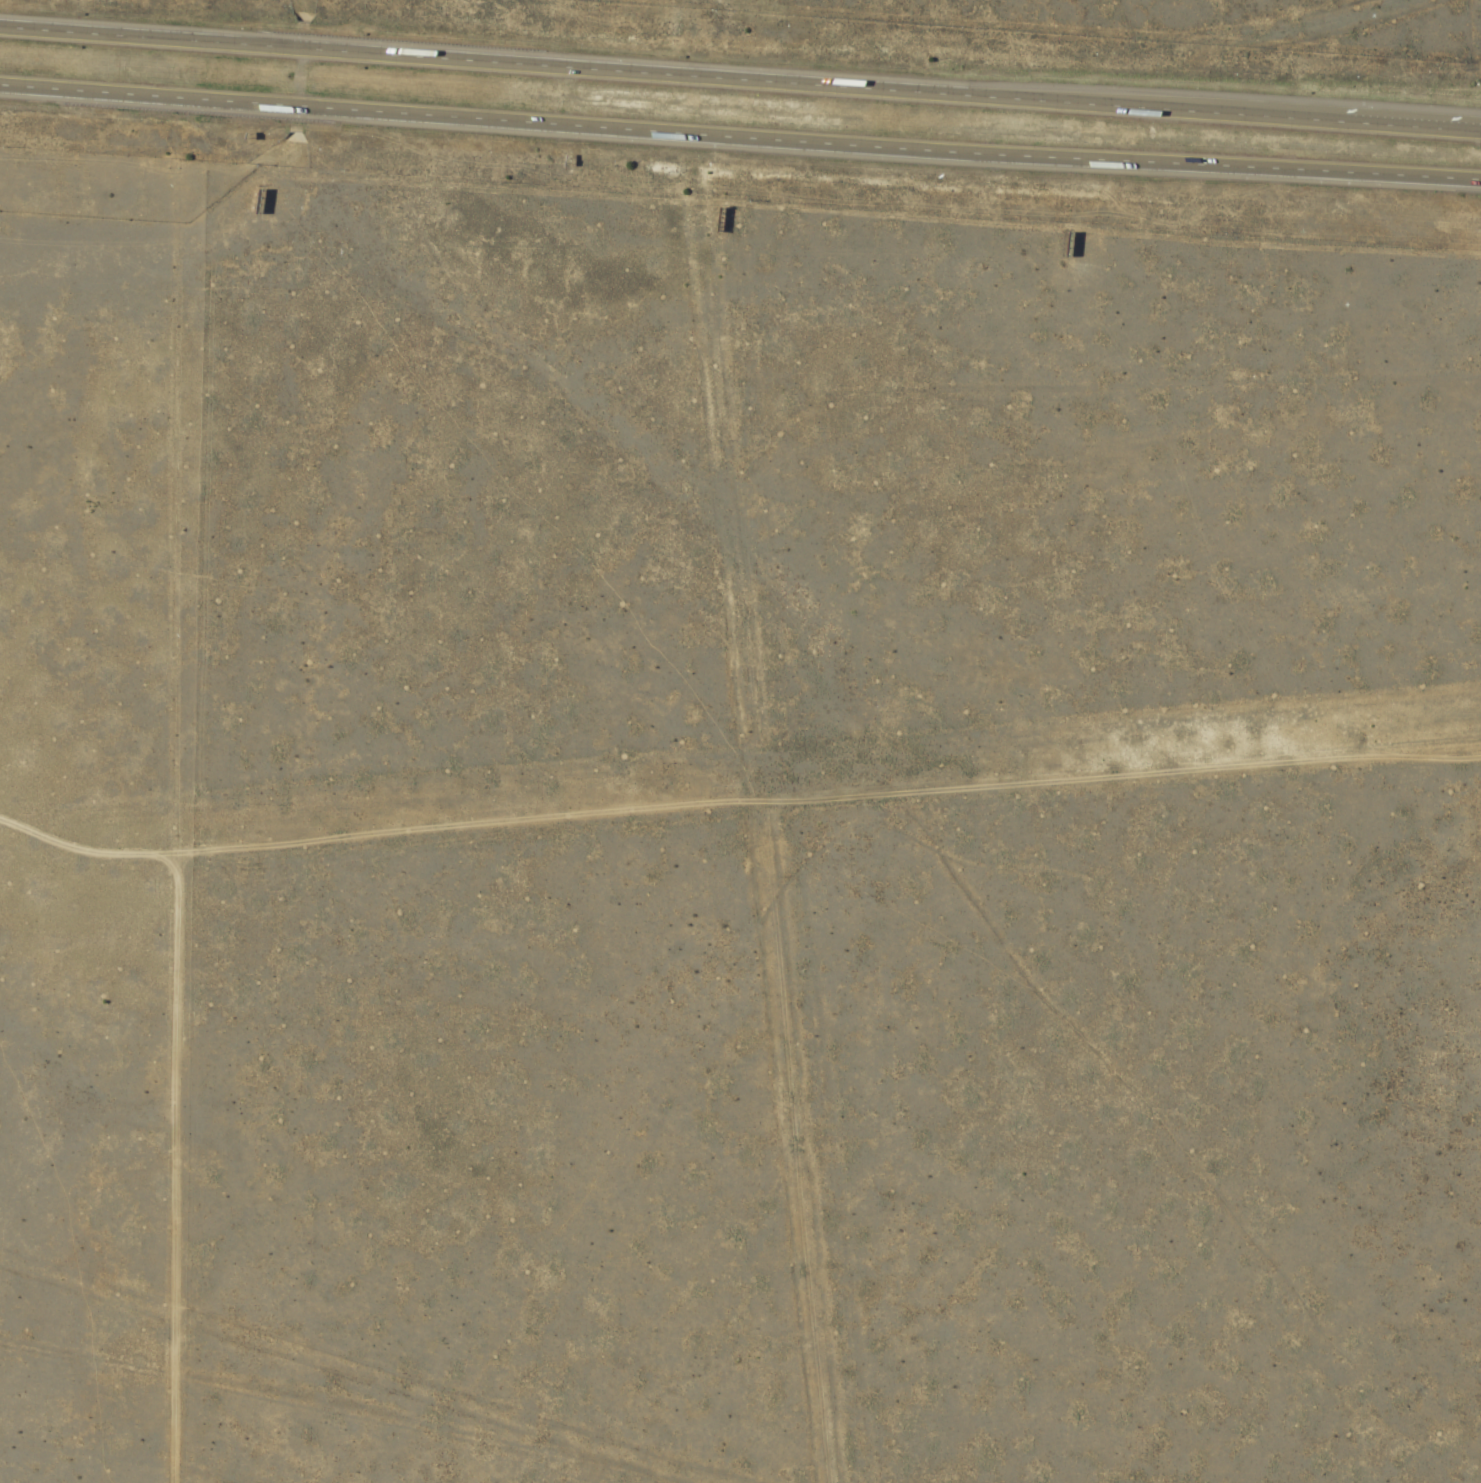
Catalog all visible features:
road: (740, 81)
road: (740, 139)
road: (736, 802)

